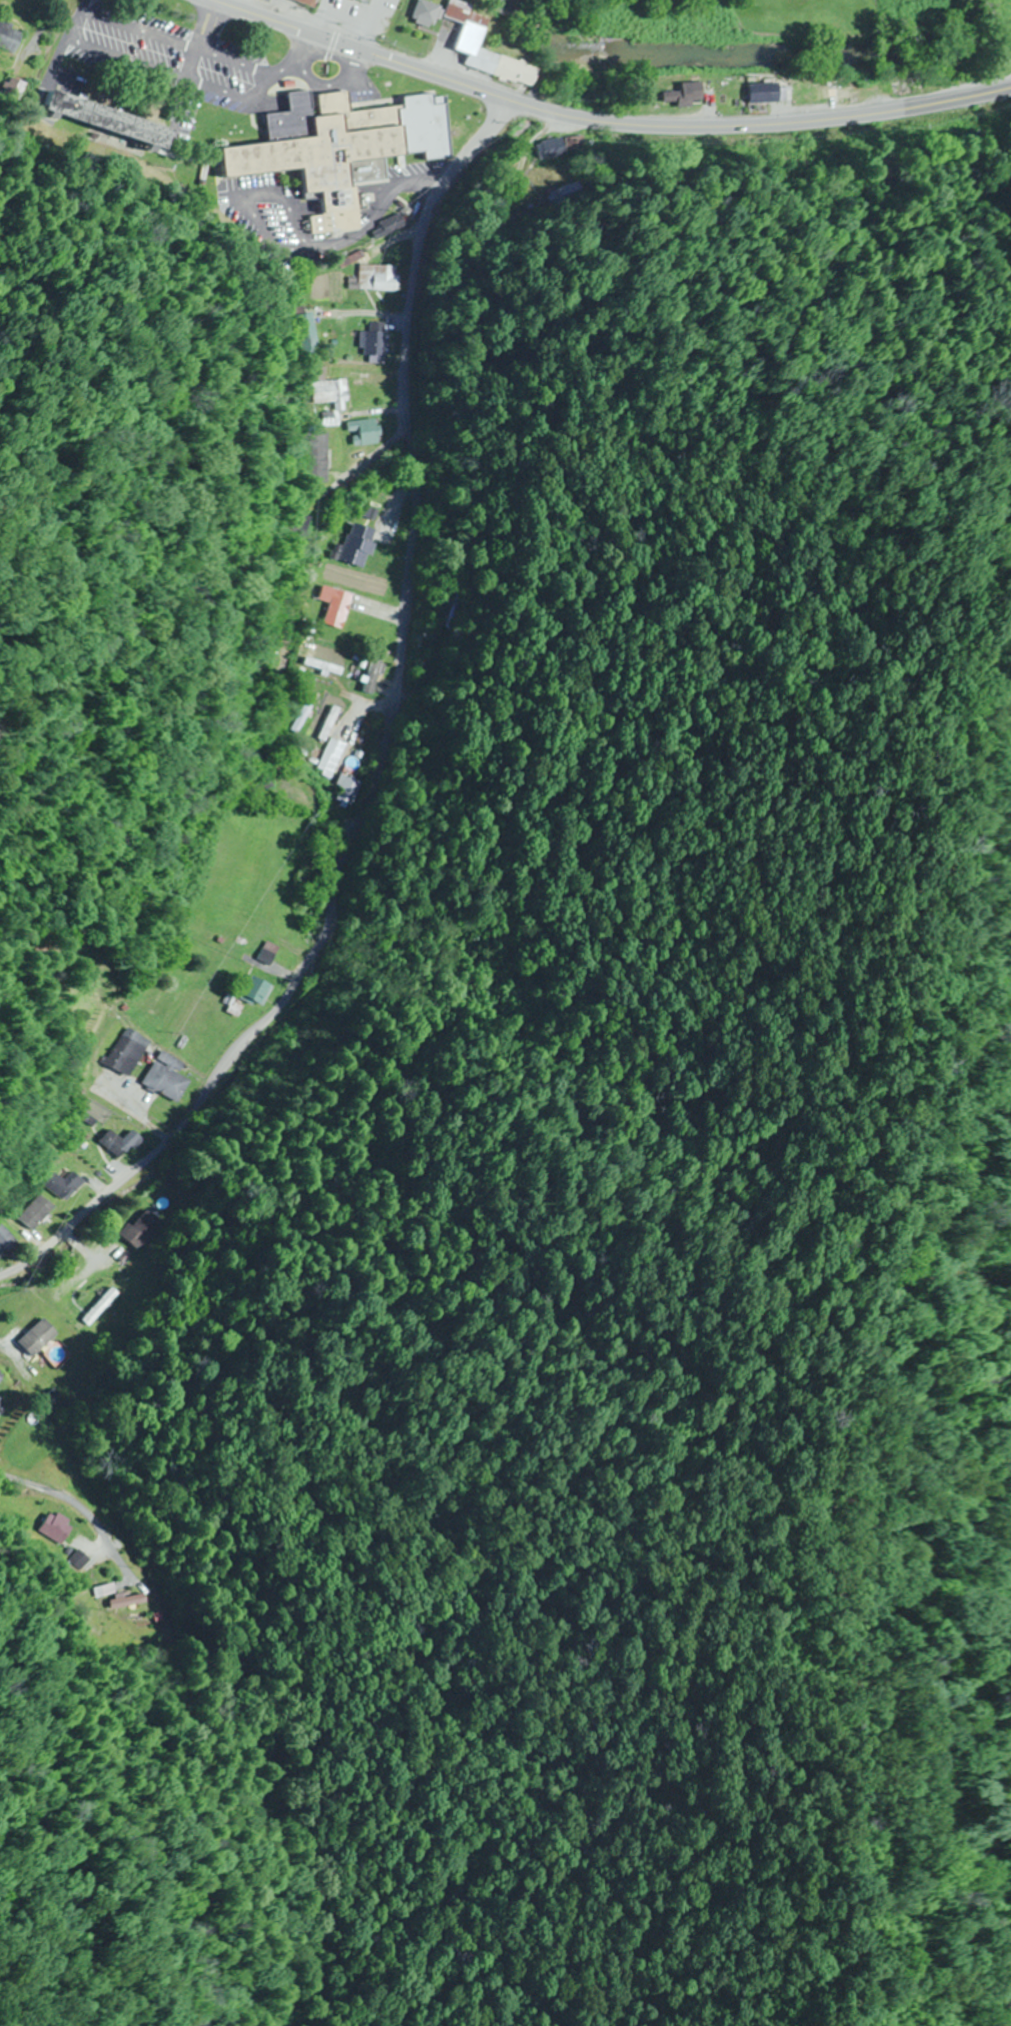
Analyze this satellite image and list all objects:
building: (305, 2)
building: (424, 14)
road: (333, 20)
building: (10, 36)
building: (468, 36)
building: (11, 93)
building: (761, 93)
building: (682, 95)
building: (107, 121)
road: (603, 122)
building: (342, 149)
building: (389, 227)
building: (380, 278)
building: (309, 334)
building: (375, 343)
building: (332, 392)
building: (371, 433)
building: (318, 457)
building: (359, 546)
building: (336, 607)
road: (381, 748)
building: (330, 766)
building: (345, 790)
building: (267, 952)
building: (255, 991)
building: (131, 1051)
building: (167, 1077)
building: (122, 1142)
building: (70, 1185)
building: (42, 1213)
building: (139, 1229)
building: (10, 1238)
building: (100, 1307)
building: (39, 1337)
building: (1, 1402)
building: (50, 1527)
building: (76, 1560)
building: (116, 1596)

